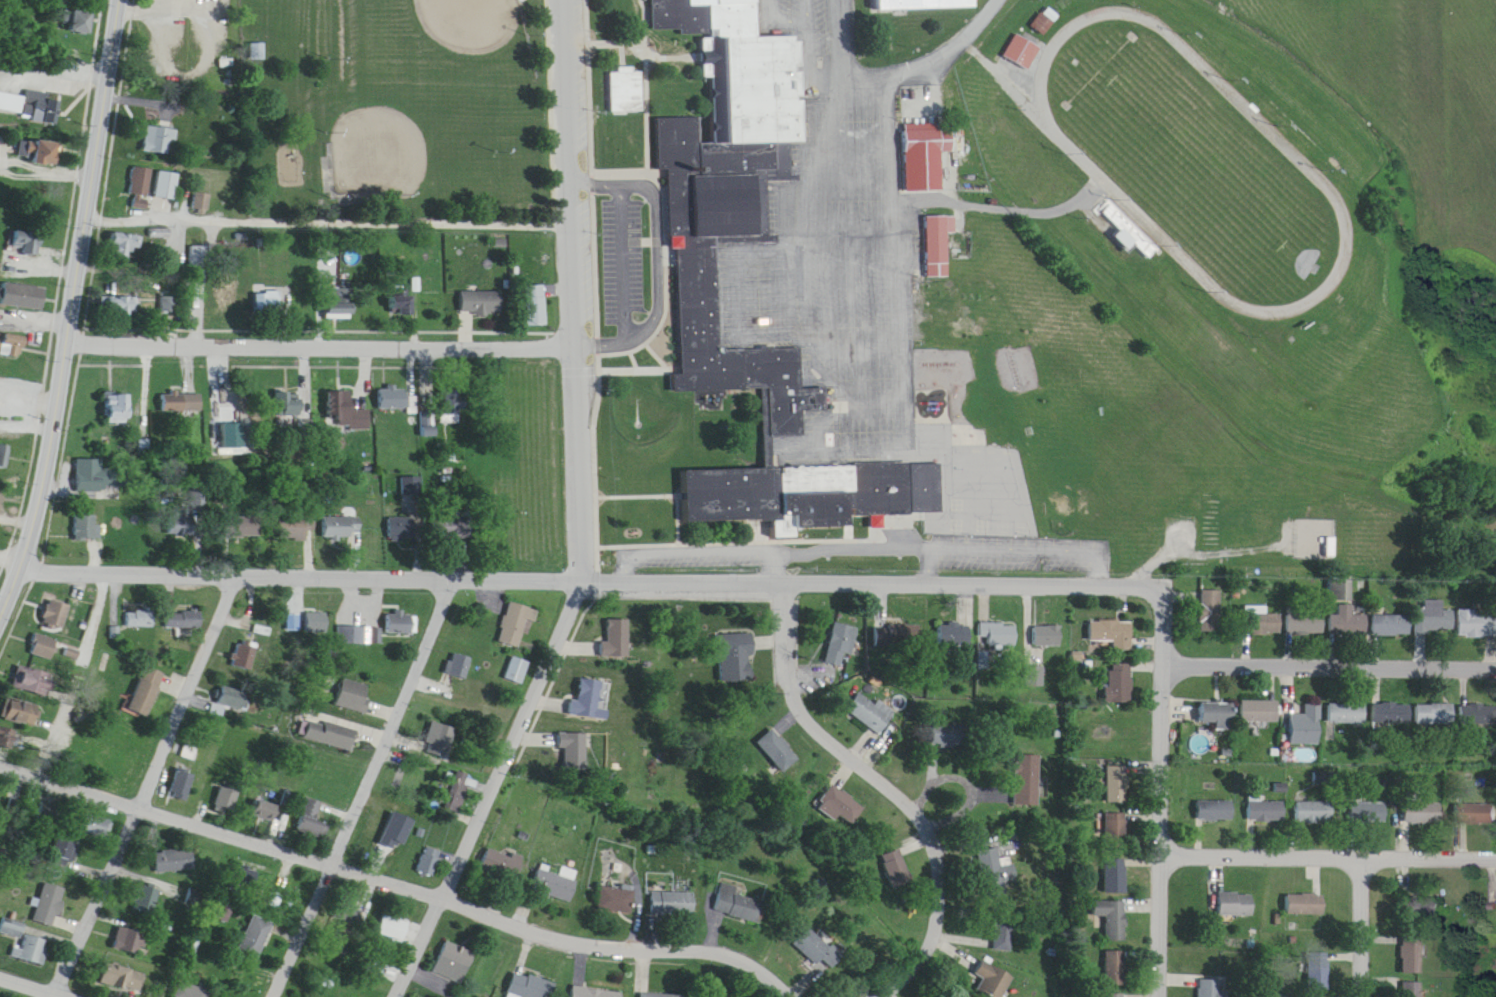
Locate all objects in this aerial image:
road: (191, 4)
road: (787, 4)
building: (925, 4)
park: (472, 15)
building: (83, 21)
parking lot: (799, 21)
building: (1044, 23)
flagpole: (673, 28)
road: (839, 35)
road: (650, 36)
parking lot: (190, 37)
road: (619, 41)
flagpole: (319, 47)
road: (810, 47)
building: (1024, 51)
road: (930, 56)
road: (163, 58)
building: (619, 75)
building: (627, 90)
road: (147, 91)
building: (41, 92)
road: (646, 95)
road: (175, 104)
building: (17, 105)
park: (410, 106)
building: (159, 127)
road: (853, 135)
building: (159, 139)
building: (42, 141)
building: (918, 143)
park: (377, 146)
building: (29, 150)
building: (717, 156)
building: (140, 168)
building: (164, 171)
road: (847, 176)
building: (168, 185)
building: (141, 186)
building: (200, 188)
building: (202, 201)
road: (332, 212)
road: (849, 216)
building: (118, 229)
building: (29, 230)
flagpole: (663, 234)
building: (1126, 238)
building: (196, 241)
building: (27, 243)
building: (126, 244)
road: (658, 247)
building: (937, 247)
parking lot: (624, 249)
road: (623, 252)
road: (895, 252)
building: (201, 256)
parking lot: (823, 260)
road: (804, 263)
building: (22, 281)
building: (222, 281)
road: (576, 283)
road: (61, 285)
building: (396, 285)
building: (265, 286)
building: (158, 287)
building: (334, 288)
building: (114, 290)
building: (477, 290)
building: (532, 291)
building: (25, 296)
building: (230, 300)
building: (402, 301)
building: (268, 302)
building: (483, 302)
building: (340, 303)
building: (171, 304)
road: (75, 305)
building: (122, 305)
road: (199, 305)
road: (663, 305)
road: (744, 316)
road: (322, 317)
road: (87, 329)
building: (12, 331)
road: (324, 334)
road: (631, 344)
road: (656, 345)
building: (10, 346)
road: (273, 354)
road: (581, 359)
road: (635, 359)
building: (386, 384)
building: (179, 386)
road: (33, 387)
building: (446, 387)
building: (286, 390)
building: (410, 391)
road: (869, 391)
building: (115, 394)
road: (597, 395)
building: (344, 396)
building: (395, 399)
building: (183, 402)
building: (291, 404)
building: (120, 408)
building: (426, 408)
building: (348, 413)
building: (451, 417)
building: (228, 422)
building: (760, 433)
building: (235, 435)
road: (850, 439)
building: (3, 442)
building: (4, 455)
building: (96, 459)
building: (407, 471)
building: (98, 476)
building: (197, 483)
road: (662, 483)
flagpole: (858, 504)
building: (235, 511)
building: (335, 511)
building: (179, 512)
building: (290, 512)
building: (393, 512)
building: (446, 513)
building: (85, 514)
building: (1213, 521)
building: (183, 524)
building: (245, 526)
building: (343, 526)
building: (451, 526)
building: (87, 527)
building: (297, 527)
building: (402, 527)
road: (731, 530)
building: (1321, 532)
road: (1027, 536)
road: (1198, 537)
road: (784, 542)
road: (12, 544)
road: (1097, 555)
road: (797, 570)
road: (731, 583)
building: (1202, 598)
building: (53, 601)
building: (1424, 602)
building: (138, 605)
building: (1339, 605)
building: (180, 606)
building: (508, 607)
building: (1297, 607)
building: (1254, 608)
building: (1382, 608)
building: (1464, 608)
building: (308, 610)
building: (395, 610)
building: (1210, 610)
building: (57, 614)
building: (142, 618)
building: (1105, 618)
building: (1434, 618)
building: (355, 619)
building: (185, 620)
building: (950, 620)
building: (1045, 620)
building: (1261, 620)
building: (896, 621)
building: (994, 621)
building: (1305, 621)
building: (1348, 621)
building: (315, 622)
building: (402, 622)
building: (515, 625)
building: (1391, 625)
building: (1476, 625)
building: (611, 626)
road: (769, 629)
building: (839, 630)
building: (39, 632)
building: (998, 633)
building: (1113, 633)
building: (350, 635)
building: (906, 635)
building: (954, 635)
road: (575, 636)
building: (1048, 636)
building: (617, 639)
building: (732, 641)
building: (239, 642)
building: (842, 645)
building: (45, 647)
building: (454, 650)
building: (245, 655)
building: (512, 656)
road: (75, 661)
building: (1032, 662)
road: (811, 663)
building: (25, 666)
building: (461, 666)
building: (1115, 669)
building: (518, 670)
building: (140, 676)
building: (1034, 676)
building: (35, 681)
building: (348, 683)
building: (221, 687)
building: (583, 687)
road: (547, 690)
building: (148, 691)
building: (353, 696)
building: (16, 697)
building: (1255, 697)
building: (1341, 697)
building: (1386, 697)
building: (870, 698)
building: (1429, 698)
building: (588, 699)
building: (1209, 699)
building: (1473, 699)
building: (232, 701)
road: (790, 711)
building: (1261, 711)
building: (1300, 711)
building: (22, 713)
building: (1348, 713)
building: (1393, 713)
building: (871, 715)
building: (1220, 715)
building: (1435, 715)
building: (1479, 715)
building: (325, 719)
building: (948, 722)
building: (5, 723)
building: (432, 724)
building: (1308, 726)
road: (514, 727)
road: (534, 727)
road: (877, 733)
building: (331, 734)
building: (775, 735)
building: (571, 736)
building: (950, 736)
road: (935, 749)
building: (780, 751)
road: (845, 762)
building: (1025, 767)
building: (175, 770)
building: (1113, 770)
road: (970, 775)
building: (454, 777)
road: (145, 780)
road: (994, 781)
road: (363, 782)
road: (899, 783)
building: (182, 784)
building: (1119, 784)
building: (217, 787)
building: (836, 790)
park: (947, 790)
building: (255, 796)
building: (1213, 796)
building: (1264, 796)
building: (1313, 797)
building: (1367, 797)
building: (226, 798)
building: (1421, 798)
building: (1473, 799)
building: (308, 805)
building: (842, 805)
building: (265, 810)
building: (1219, 810)
building: (1270, 811)
building: (1317, 812)
building: (1371, 812)
building: (1426, 813)
building: (1477, 813)
building: (49, 815)
building: (1112, 816)
building: (311, 819)
road: (219, 821)
road: (1163, 825)
building: (96, 826)
building: (1117, 830)
road: (972, 833)
road: (916, 834)
building: (378, 843)
road: (1329, 846)
building: (424, 848)
building: (499, 849)
building: (71, 851)
building: (894, 853)
building: (993, 858)
building: (174, 861)
building: (428, 861)
building: (1112, 861)
building: (502, 864)
building: (549, 869)
building: (1116, 876)
building: (246, 881)
building: (556, 883)
road: (499, 884)
building: (611, 884)
building: (1302, 888)
building: (668, 889)
building: (734, 889)
building: (1229, 890)
building: (1419, 891)
road: (525, 895)
building: (617, 899)
road: (637, 899)
building: (146, 900)
building: (673, 903)
building: (1108, 904)
building: (1237, 904)
building: (1308, 904)
building: (48, 905)
building: (739, 905)
building: (1425, 906)
building: (351, 915)
road: (651, 918)
road: (713, 918)
building: (1001, 918)
building: (1114, 918)
road: (1363, 922)
building: (393, 927)
road: (964, 927)
building: (1004, 933)
building: (810, 934)
building: (255, 936)
road: (627, 936)
road: (524, 939)
road: (955, 939)
building: (1407, 939)
building: (130, 940)
building: (25, 942)
road: (416, 942)
building: (448, 948)
building: (817, 949)
road: (577, 952)
building: (1110, 953)
building: (1414, 955)
building: (1313, 956)
road: (641, 957)
building: (453, 962)
road: (427, 966)
road: (802, 967)
building: (990, 967)
building: (1116, 968)
building: (1319, 972)
building: (526, 973)
building: (126, 977)
road: (54, 981)
building: (1208, 982)
building: (1407, 982)
building: (530, 986)
building: (588, 986)
building: (653, 987)
road: (898, 988)
building: (1111, 988)
building: (191, 991)
building: (726, 996)
road: (800, 996)

